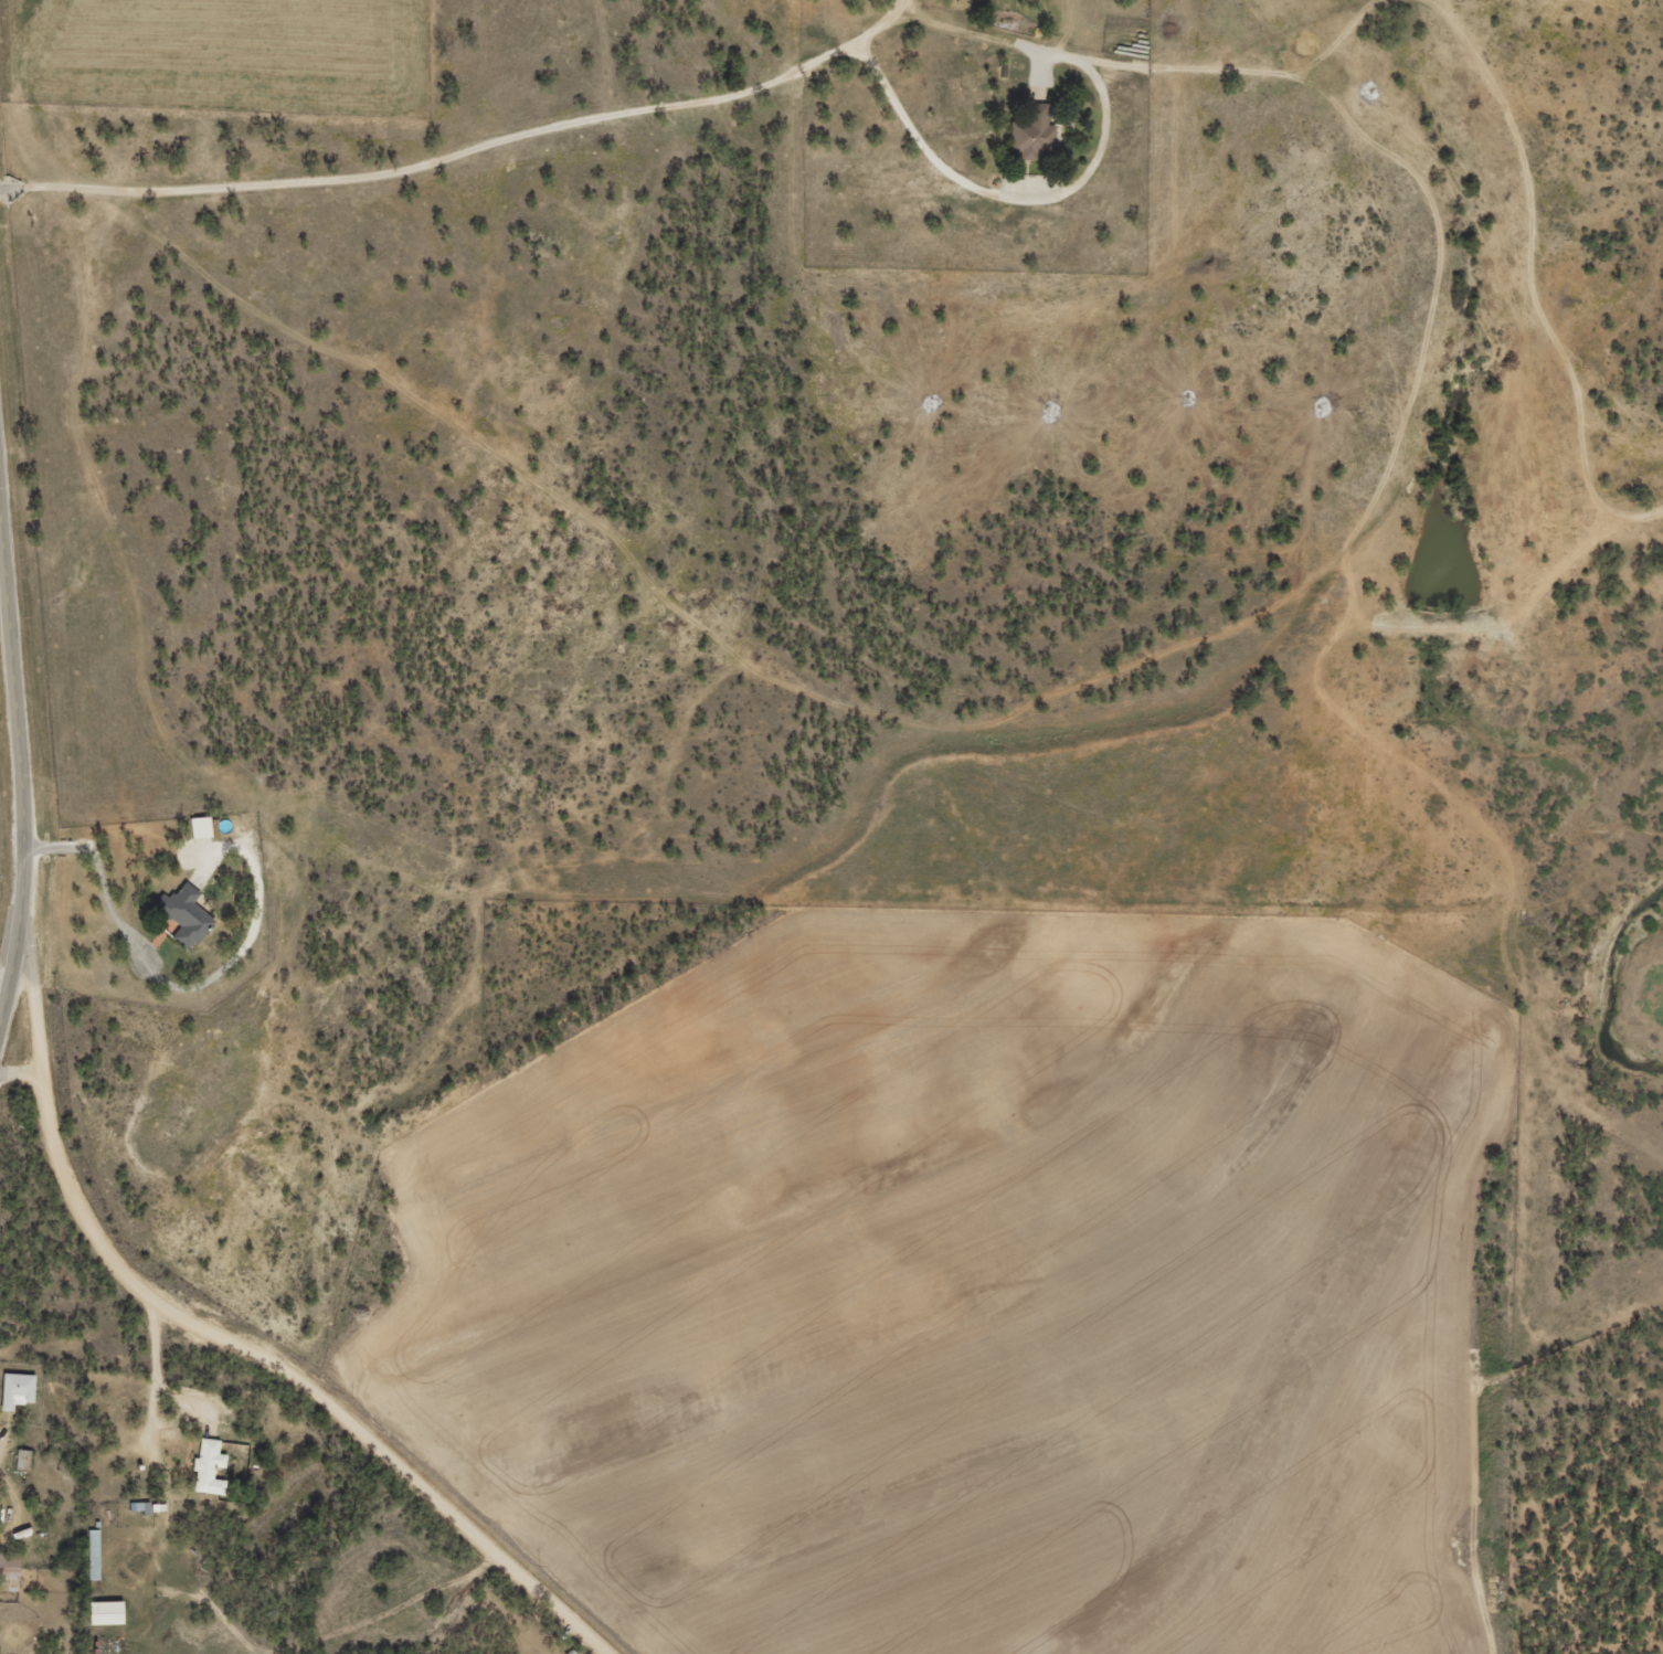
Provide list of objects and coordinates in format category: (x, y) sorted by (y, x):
building: (1035, 132)
road: (357, 335)
road: (21, 766)
building: (204, 827)
building: (188, 914)
road: (263, 1339)
building: (20, 1389)
building: (212, 1466)
road: (153, 1501)
building: (95, 1554)
building: (12, 1569)
building: (108, 1612)
road: (500, 1615)

